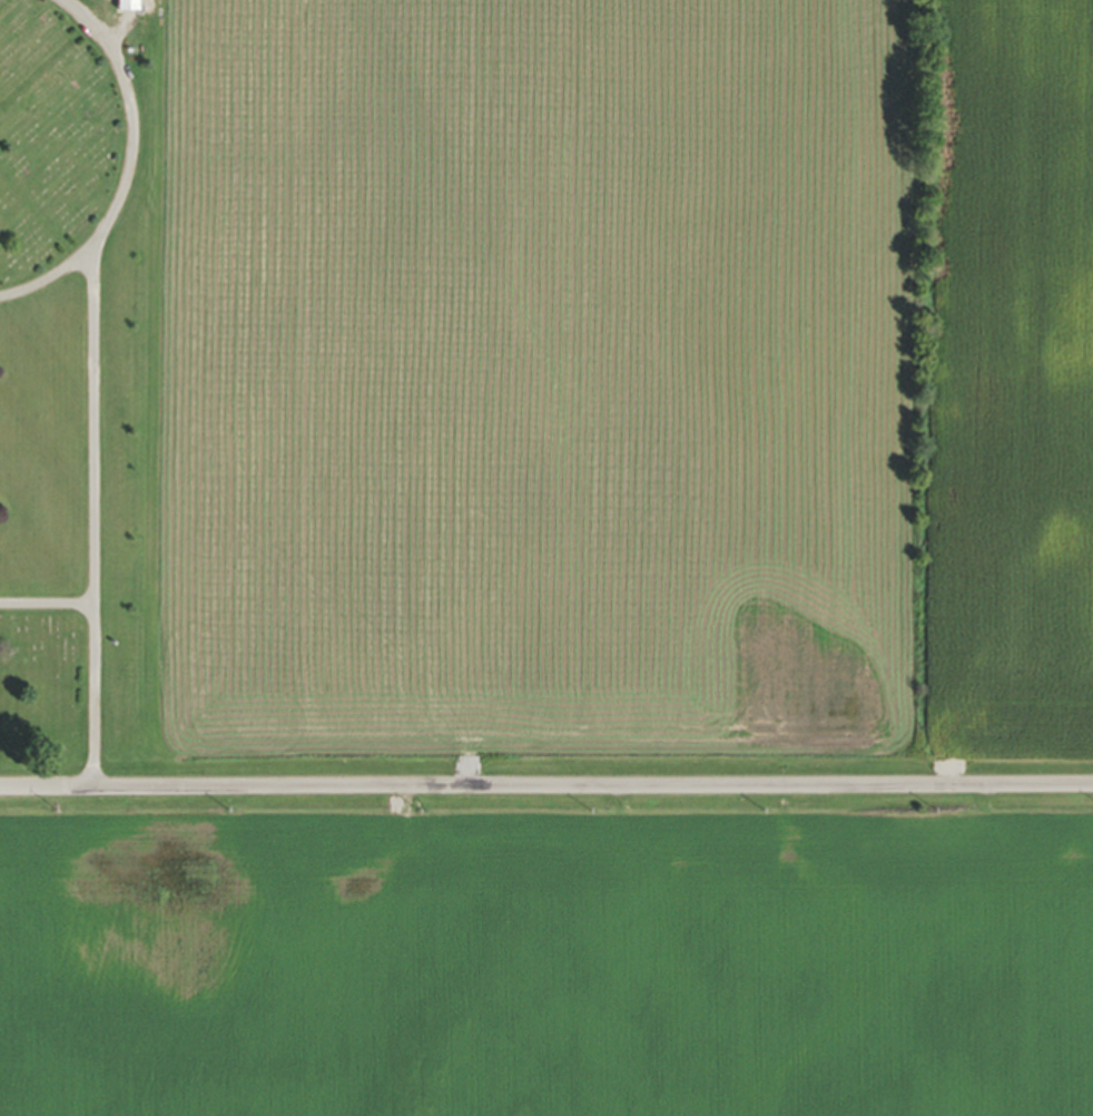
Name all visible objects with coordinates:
building: (126, 7)
road: (138, 173)
park: (85, 384)
road: (97, 525)
road: (48, 611)
road: (545, 786)

